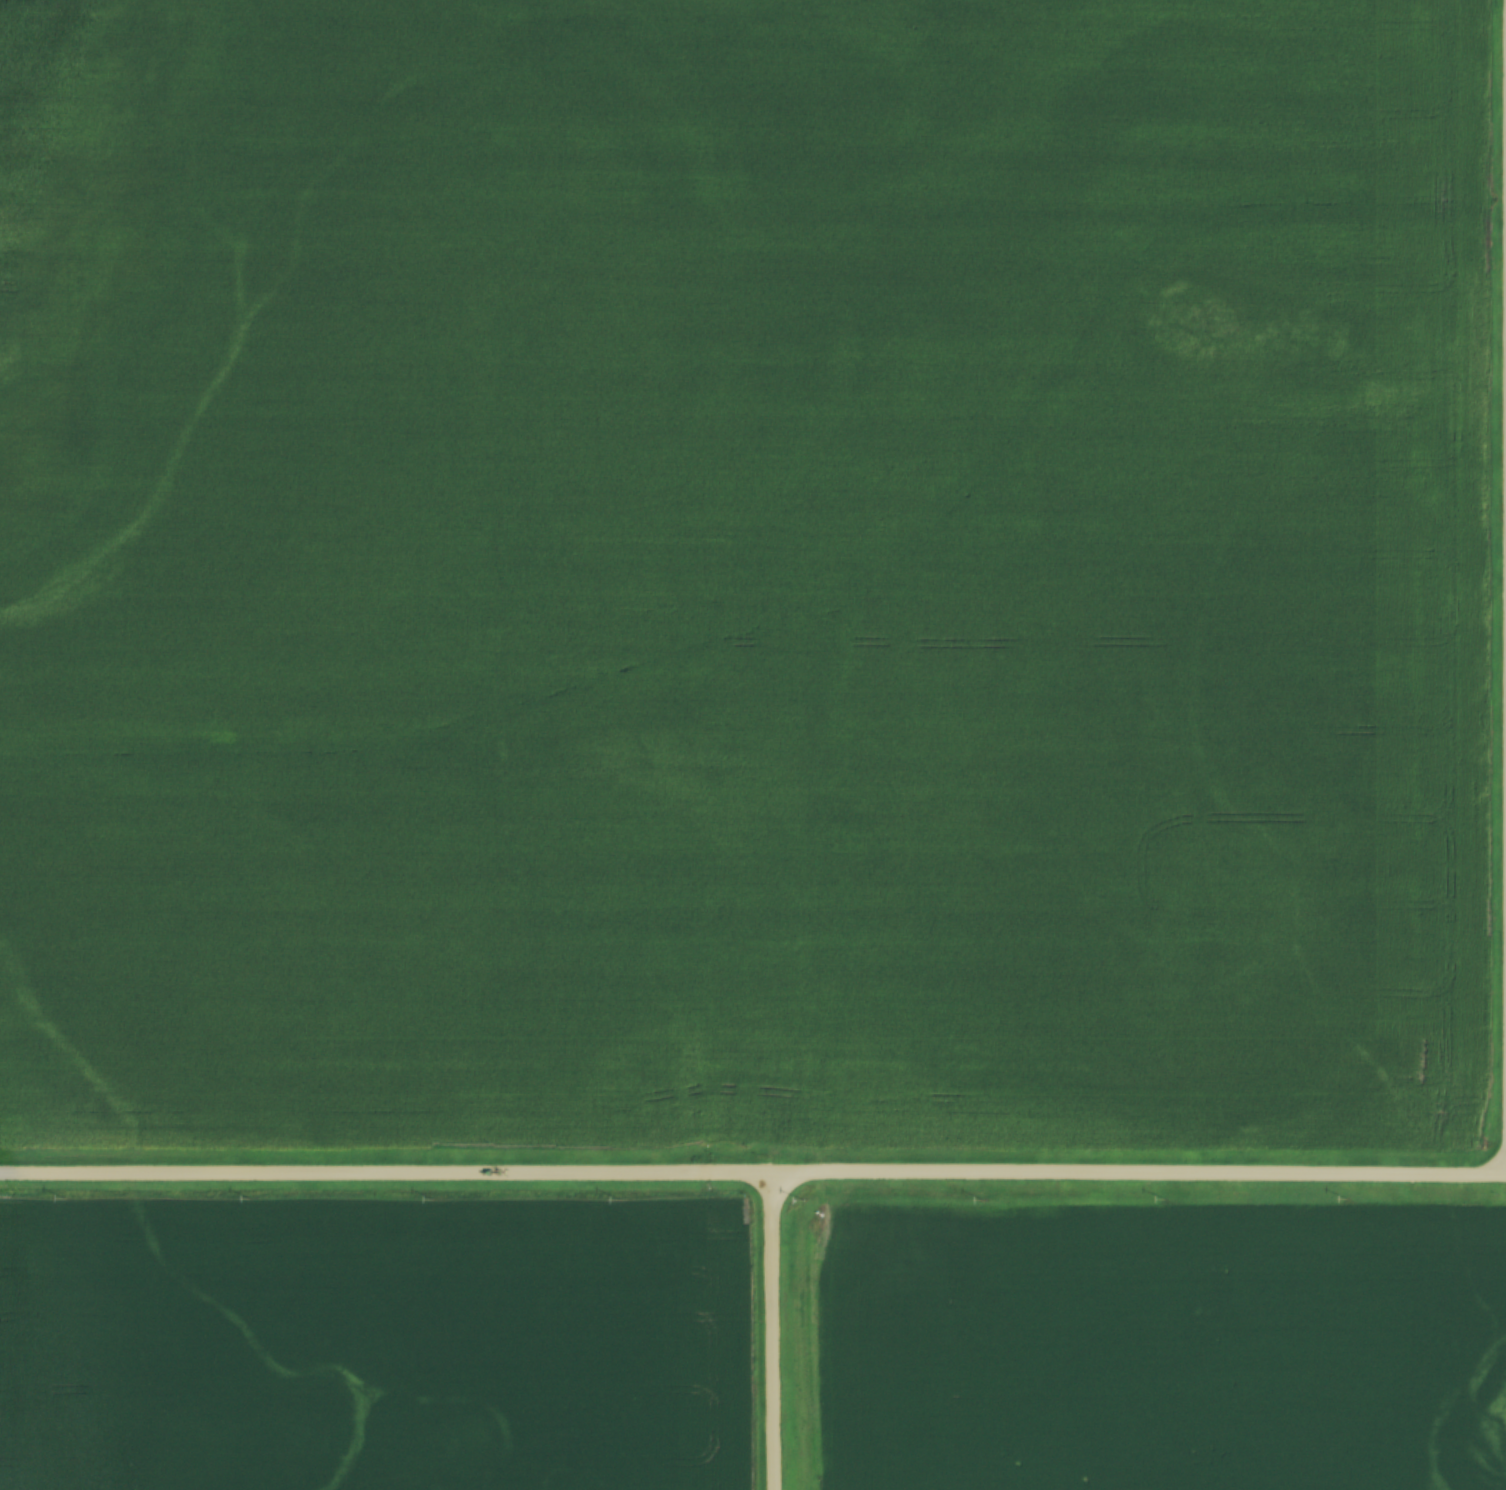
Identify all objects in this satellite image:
road: (753, 1171)
road: (775, 1331)

